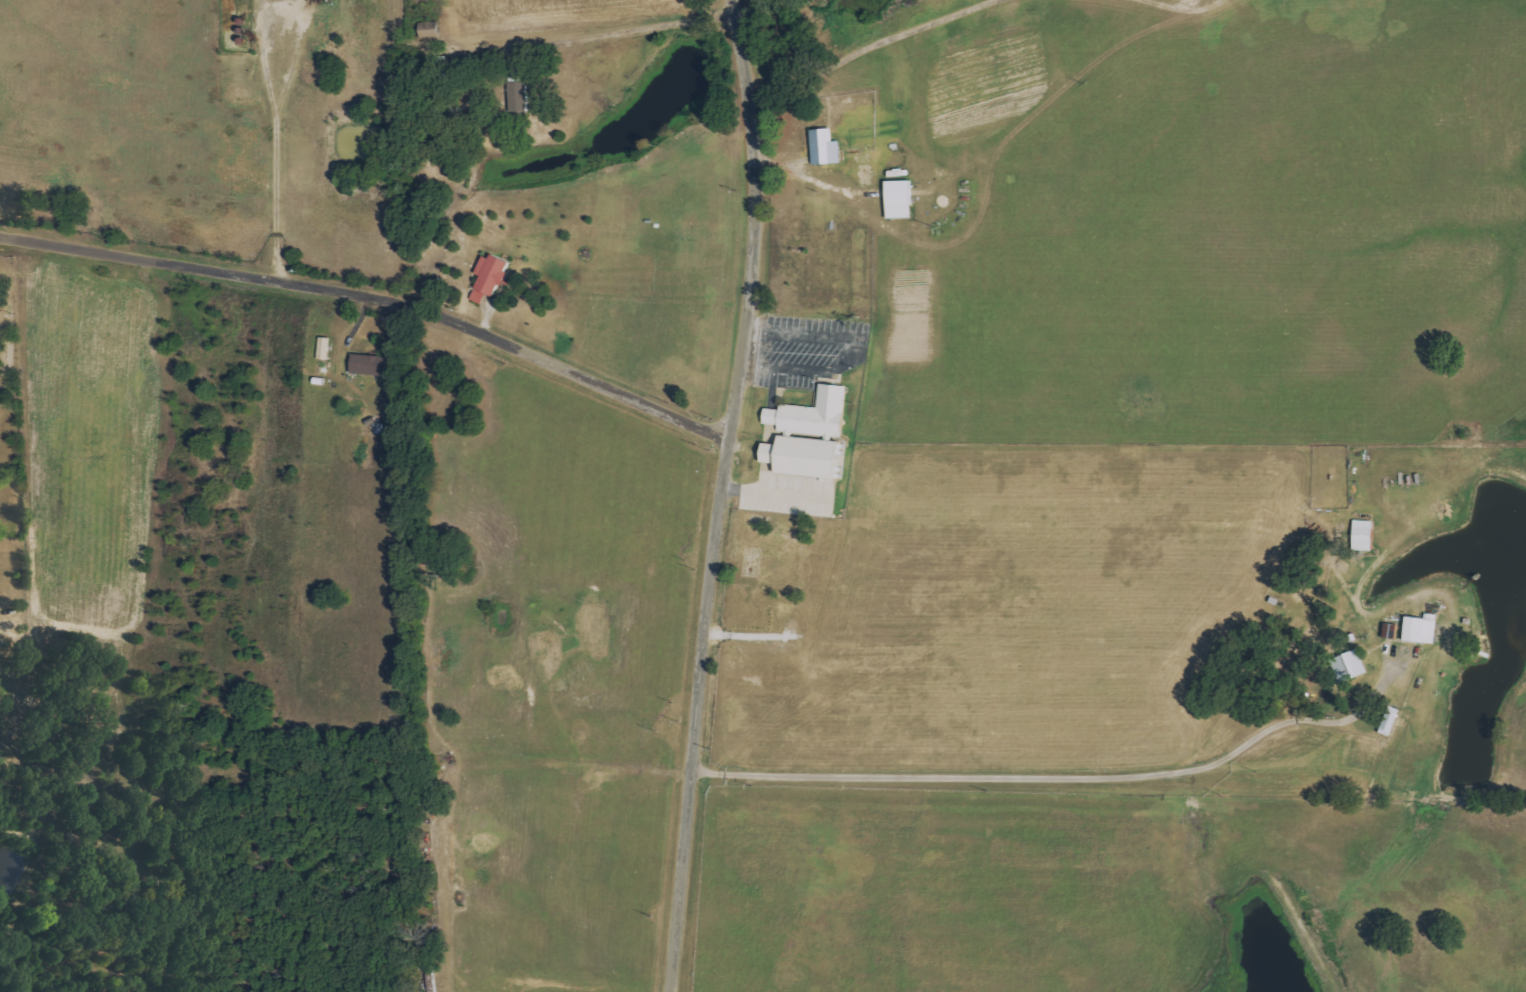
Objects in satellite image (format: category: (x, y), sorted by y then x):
road: (1184, 9)
building: (432, 29)
road: (632, 30)
road: (876, 49)
road: (268, 77)
building: (520, 96)
building: (826, 146)
building: (902, 199)
building: (491, 277)
road: (375, 294)
building: (0, 322)
road: (857, 352)
building: (372, 364)
road: (775, 389)
building: (815, 414)
road: (772, 415)
road: (771, 432)
road: (769, 452)
building: (806, 456)
road: (751, 486)
road: (719, 495)
building: (1365, 535)
building: (1417, 629)
building: (1350, 666)
building: (1392, 721)
road: (1059, 777)

